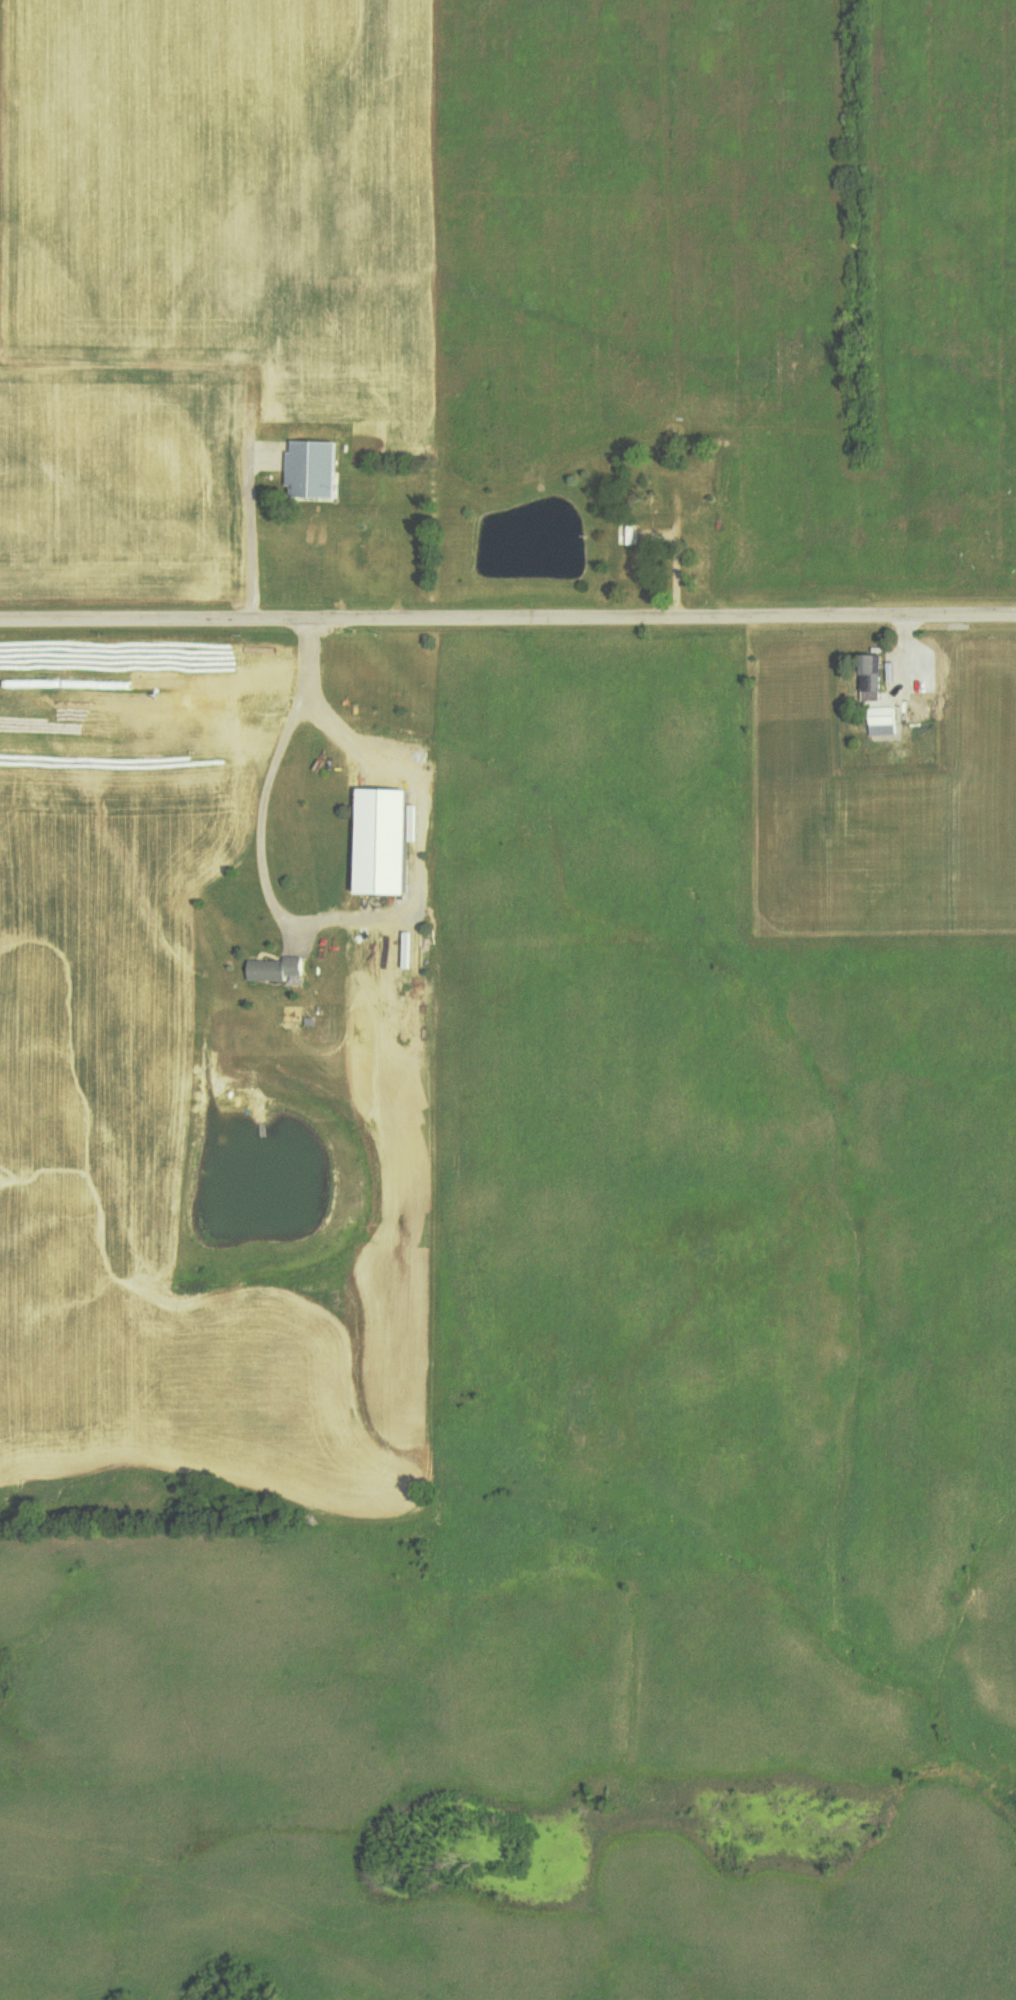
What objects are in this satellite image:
crop: (200, 266)
road: (250, 539)
road: (507, 620)
road: (344, 746)
road: (262, 783)

